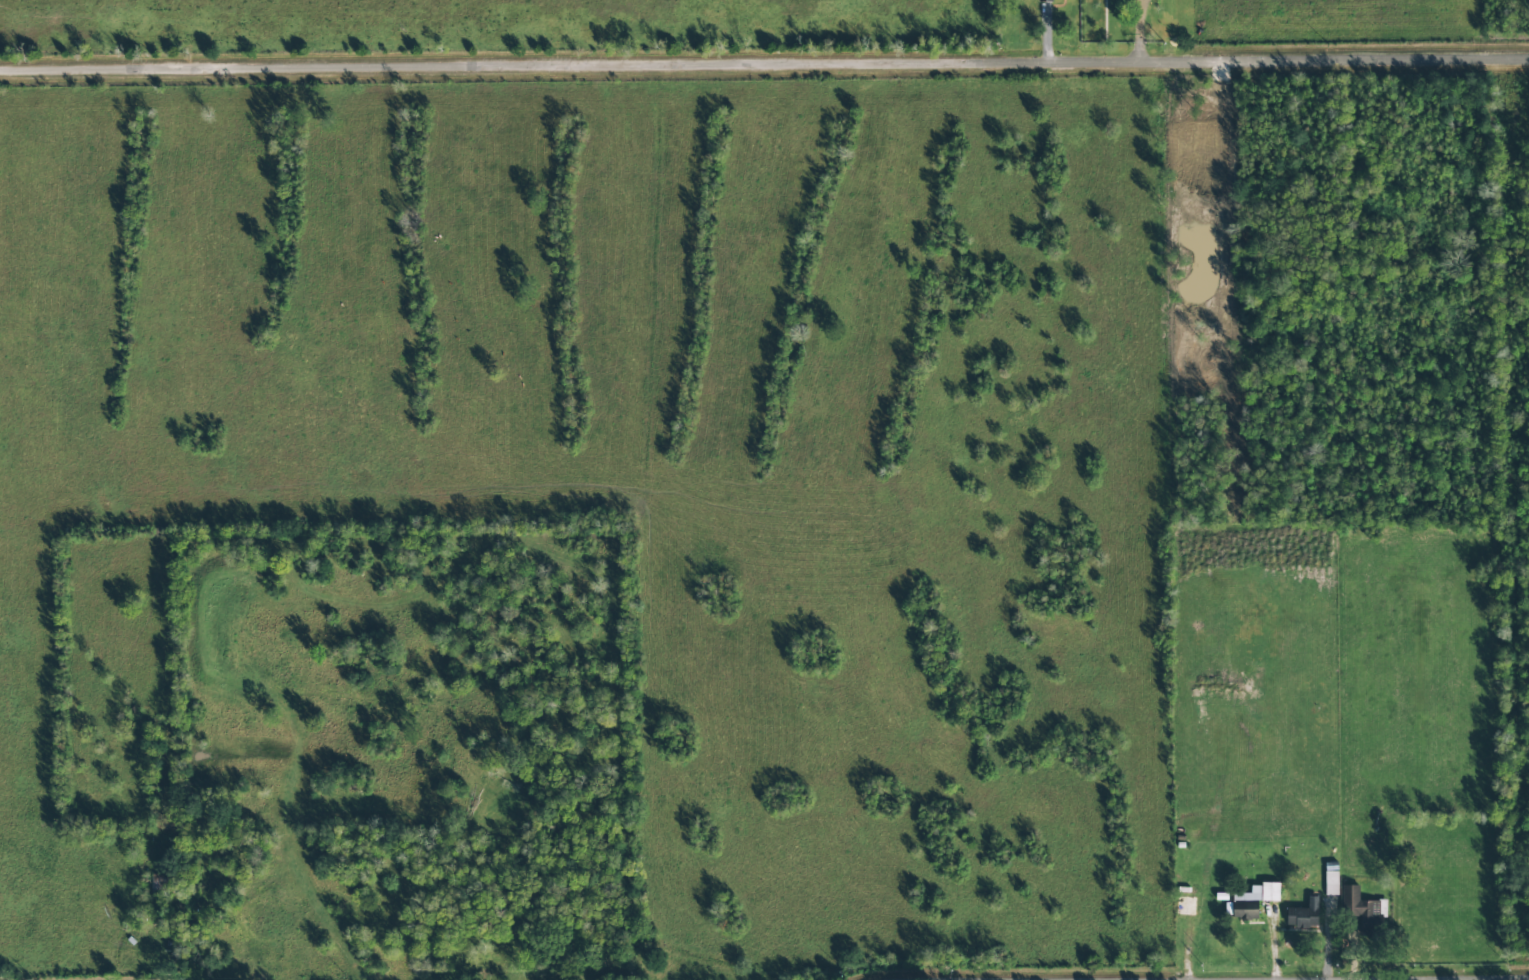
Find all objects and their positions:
building: (1045, 0)
road: (764, 64)
building: (1331, 884)
building: (1253, 900)
building: (1359, 909)
building: (1303, 915)

